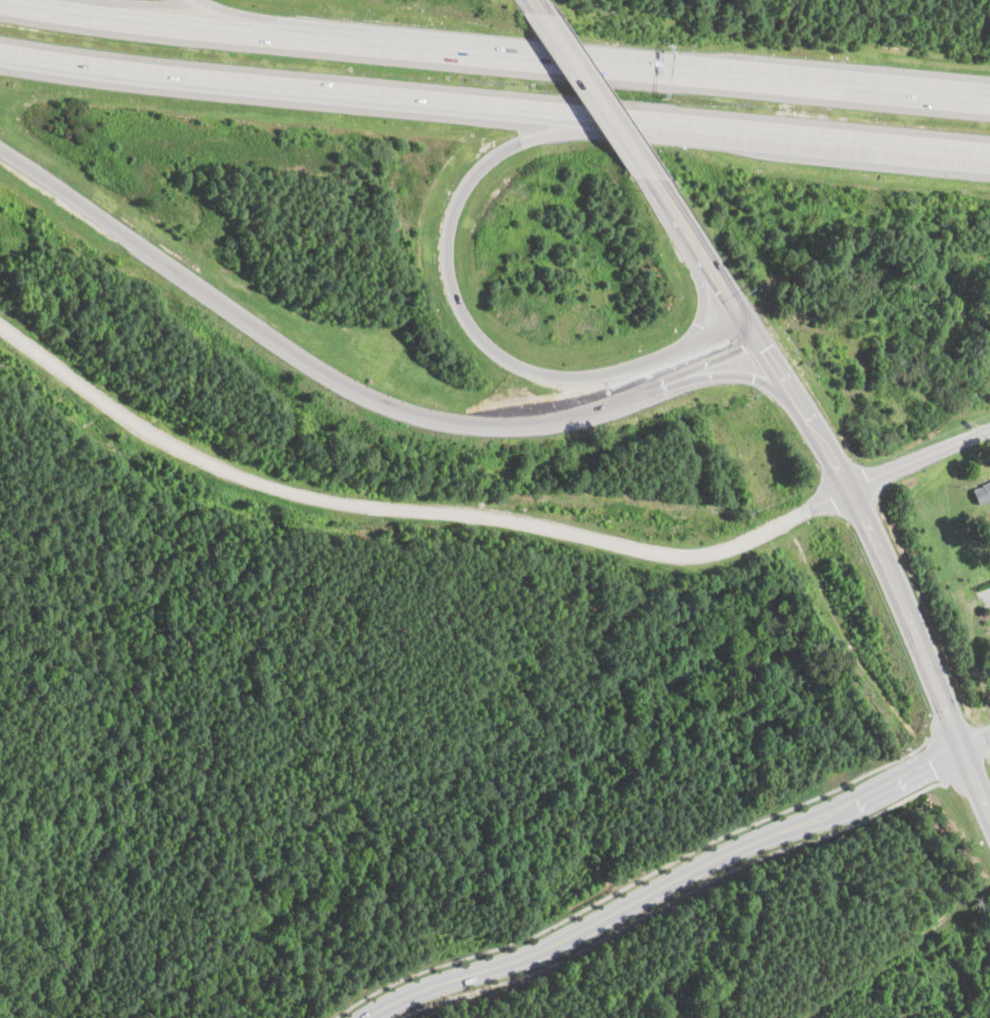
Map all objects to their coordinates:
road: (539, 7)
road: (287, 24)
road: (494, 53)
road: (597, 95)
road: (494, 111)
traffic signals: (744, 321)
road: (470, 322)
traffic signals: (758, 342)
road: (351, 386)
road: (918, 458)
road: (842, 482)
building: (982, 492)
road: (409, 509)
road: (974, 740)
road: (934, 758)
road: (632, 881)
road: (660, 886)
road: (671, 900)

